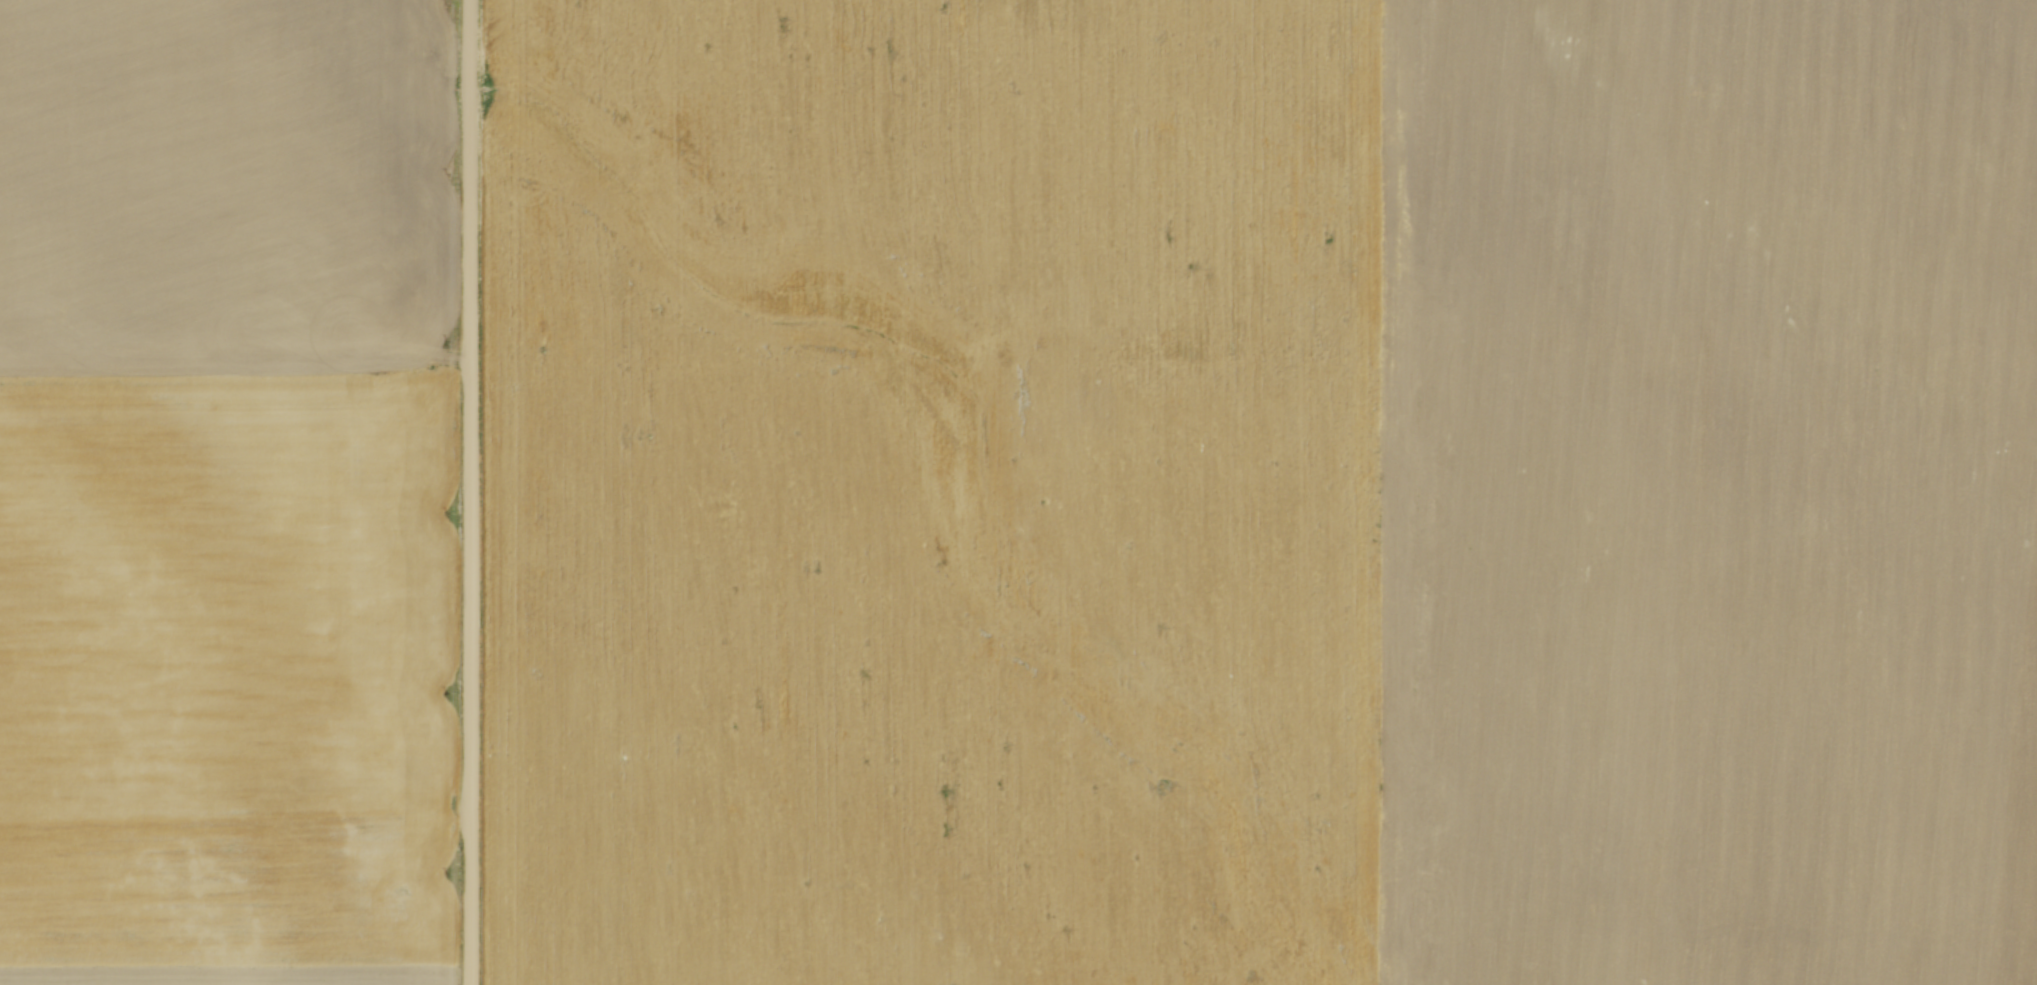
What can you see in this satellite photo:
crop: (228, 492)
road: (472, 492)
crop: (1262, 492)

